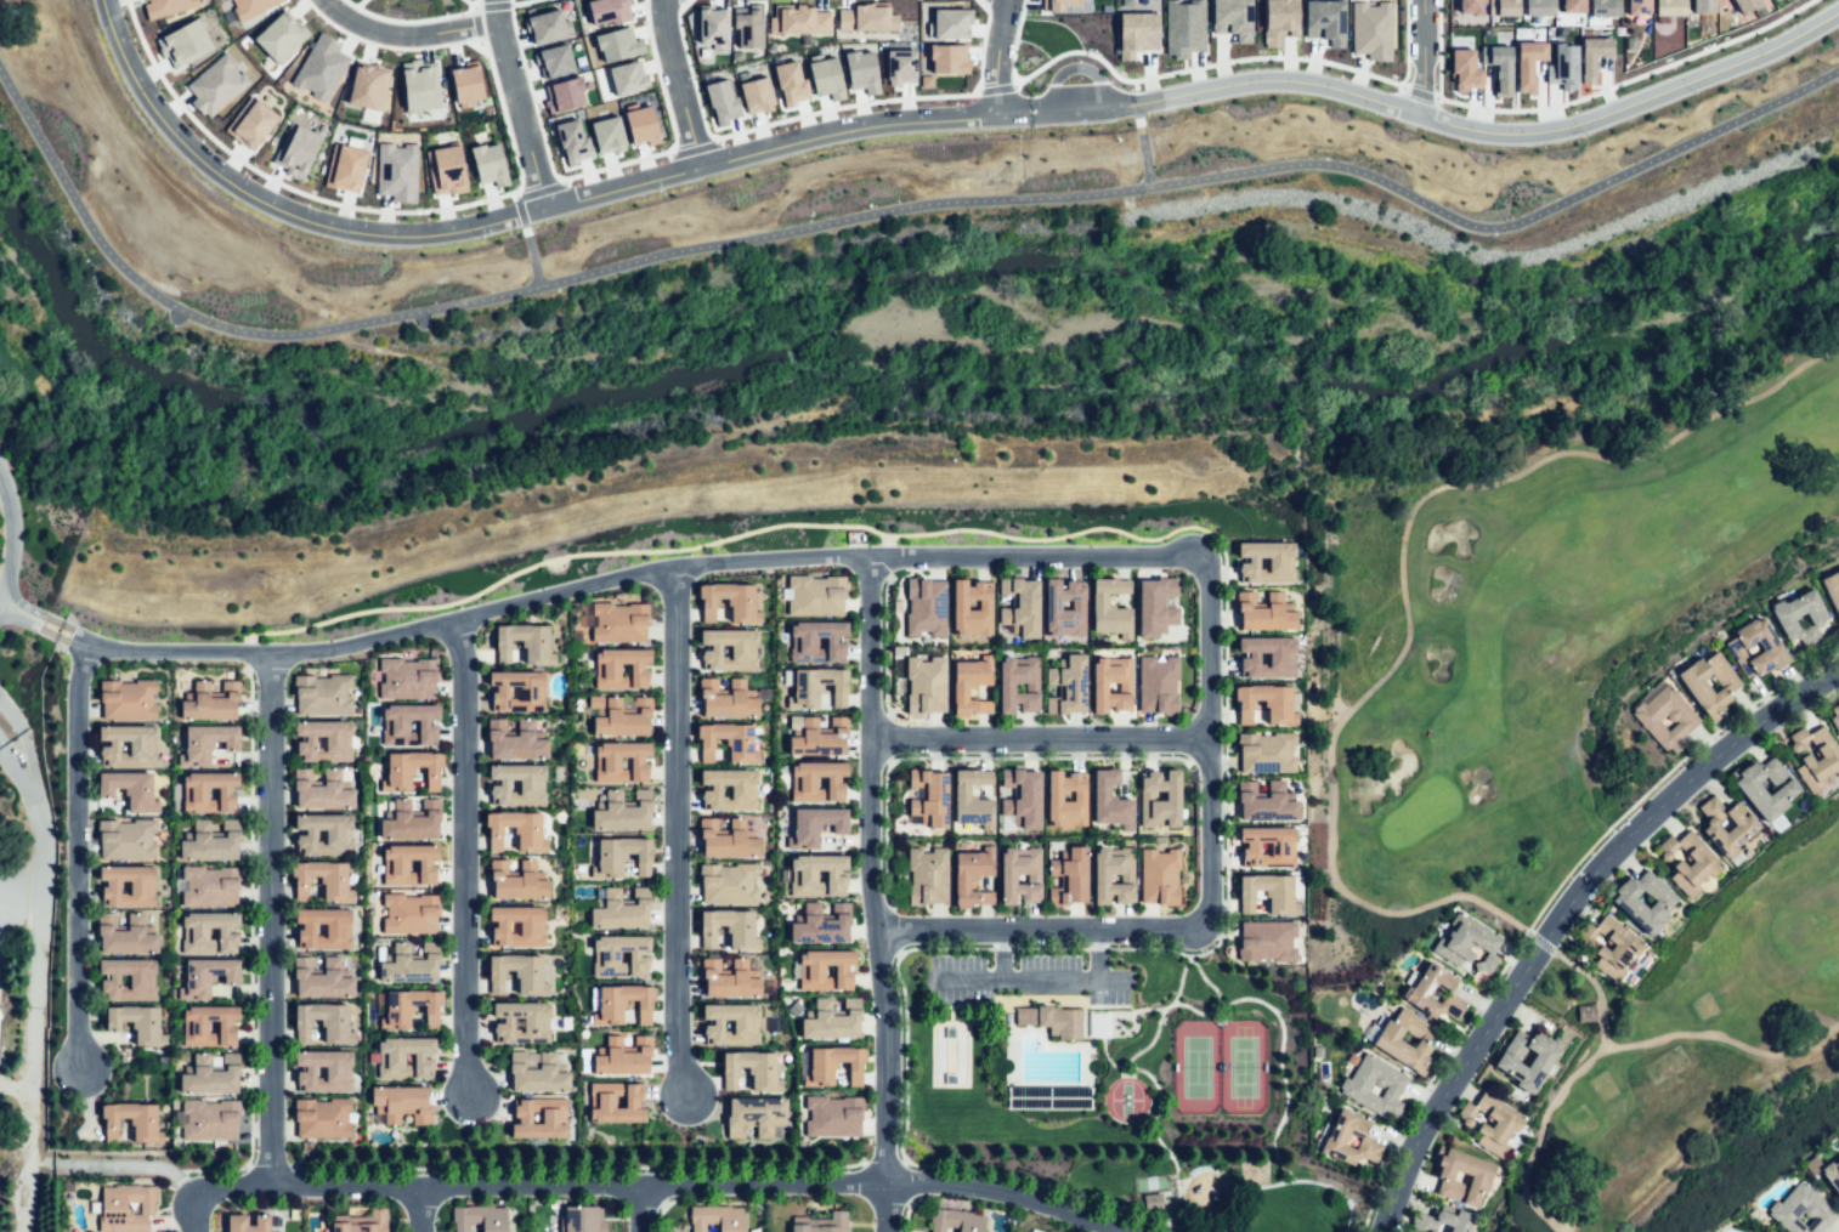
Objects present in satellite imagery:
road: (520, 2)
building: (1058, 4)
building: (1744, 5)
building: (164, 6)
building: (250, 6)
road: (490, 6)
building: (1470, 6)
building: (1637, 6)
building: (1702, 6)
building: (1503, 7)
building: (1539, 7)
building: (1603, 7)
building: (1668, 7)
building: (606, 11)
building: (865, 18)
building: (1232, 18)
building: (799, 19)
building: (1278, 21)
building: (1324, 21)
building: (950, 23)
road: (475, 25)
building: (712, 25)
building: (747, 25)
building: (544, 27)
building: (1183, 27)
building: (1370, 29)
building: (1136, 33)
road: (403, 34)
building: (278, 36)
road: (1405, 42)
building: (183, 44)
building: (617, 45)
road: (1437, 49)
building: (1592, 56)
road: (997, 57)
road: (1422, 57)
building: (947, 58)
road: (1243, 58)
building: (553, 61)
road: (1047, 63)
building: (1527, 63)
building: (319, 67)
building: (899, 67)
building: (1499, 67)
building: (1562, 67)
road: (1076, 68)
building: (1464, 69)
building: (861, 70)
road: (689, 73)
building: (624, 78)
road: (658, 78)
building: (924, 80)
road: (1626, 80)
building: (465, 83)
road: (677, 83)
building: (790, 83)
building: (215, 85)
building: (418, 85)
road: (1134, 85)
building: (364, 86)
road: (994, 87)
road: (1418, 92)
building: (754, 93)
building: (562, 95)
road: (530, 97)
building: (722, 102)
road: (517, 103)
road: (1134, 104)
road: (1082, 108)
road: (503, 119)
building: (250, 123)
building: (640, 125)
road: (1494, 131)
building: (606, 135)
building: (572, 142)
road: (692, 148)
building: (295, 149)
road: (1142, 152)
building: (487, 164)
road: (615, 164)
building: (344, 168)
building: (445, 170)
building: (396, 171)
road: (539, 191)
road: (520, 211)
road: (875, 211)
road: (515, 214)
road: (531, 255)
road: (12, 541)
building: (1263, 562)
park: (1551, 567)
road: (598, 584)
building: (1833, 590)
building: (808, 592)
building: (730, 598)
building: (1155, 604)
building: (924, 606)
building: (1019, 606)
building: (971, 607)
building: (1064, 607)
building: (1109, 607)
building: (1262, 612)
building: (1818, 619)
building: (616, 620)
building: (814, 640)
building: (525, 642)
building: (729, 646)
building: (1770, 654)
building: (1264, 657)
building: (641, 674)
building: (403, 676)
building: (1114, 681)
building: (1710, 681)
building: (1020, 682)
building: (1158, 685)
building: (919, 686)
building: (1070, 686)
building: (974, 687)
building: (533, 692)
building: (324, 693)
building: (800, 694)
building: (130, 698)
building: (726, 702)
building: (214, 705)
building: (1277, 706)
building: (1685, 717)
building: (1835, 719)
building: (624, 721)
building: (396, 725)
road: (1041, 732)
building: (816, 736)
building: (728, 738)
building: (324, 740)
building: (209, 743)
building: (128, 745)
road: (1213, 745)
building: (517, 746)
road: (26, 750)
building: (1264, 753)
road: (1330, 754)
building: (1816, 757)
building: (606, 765)
building: (813, 777)
road: (19, 778)
building: (397, 779)
building: (532, 783)
building: (728, 784)
building: (130, 789)
building: (960, 790)
building: (1754, 790)
building: (196, 794)
building: (928, 796)
building: (322, 797)
building: (1022, 797)
building: (1159, 797)
building: (1064, 799)
building: (1109, 800)
building: (1263, 802)
building: (624, 817)
building: (414, 825)
building: (1728, 828)
building: (517, 831)
building: (798, 833)
building: (339, 835)
road: (678, 836)
building: (128, 840)
building: (730, 842)
building: (213, 847)
road: (39, 858)
building: (1691, 863)
road: (81, 864)
road: (470, 864)
building: (610, 864)
building: (396, 869)
building: (1020, 875)
building: (1099, 876)
building: (1158, 876)
building: (800, 878)
building: (928, 879)
building: (1071, 879)
parking lot: (1145, 879)
building: (322, 882)
building: (734, 882)
building: (205, 884)
building: (964, 884)
road: (19, 885)
building: (143, 885)
building: (516, 885)
building: (1267, 893)
road: (875, 897)
parking lot: (1, 901)
building: (1647, 903)
building: (621, 909)
building: (407, 910)
road: (1562, 910)
road: (19, 914)
road: (276, 918)
building: (820, 921)
building: (531, 925)
building: (732, 927)
building: (326, 930)
road: (1045, 933)
building: (196, 937)
building: (1266, 939)
building: (129, 941)
building: (1611, 946)
building: (1448, 950)
building: (604, 961)
building: (821, 965)
building: (411, 971)
building: (517, 971)
building: (735, 976)
building: (209, 977)
road: (1047, 978)
building: (143, 980)
parking lot: (1028, 981)
building: (323, 986)
building: (1420, 995)
building: (621, 1001)
building: (397, 1016)
building: (822, 1017)
building: (327, 1022)
building: (536, 1022)
building: (753, 1022)
building: (137, 1023)
building: (1051, 1023)
building: (196, 1027)
building: (1391, 1043)
park: (1687, 1050)
building: (627, 1057)
building: (1543, 1062)
building: (391, 1064)
building: (752, 1068)
park: (1220, 1068)
road: (30, 1069)
building: (339, 1073)
building: (813, 1073)
building: (536, 1074)
building: (211, 1081)
building: (1357, 1085)
road: (15, 1089)
building: (600, 1101)
building: (403, 1103)
building: (754, 1115)
building: (206, 1118)
building: (323, 1118)
building: (519, 1118)
building: (832, 1118)
building: (132, 1123)
building: (1490, 1125)
building: (1337, 1139)
road: (1535, 1140)
road: (114, 1165)
building: (1833, 1173)
building: (1482, 1179)
road: (668, 1185)
building: (128, 1208)
road: (425, 1209)
road: (641, 1209)
building: (1801, 1210)
road: (193, 1213)
building: (718, 1217)
building: (837, 1217)
building: (480, 1219)
building: (957, 1219)
building: (578, 1220)
building: (1455, 1222)
building: (248, 1224)
building: (363, 1224)
building: (1047, 1231)

